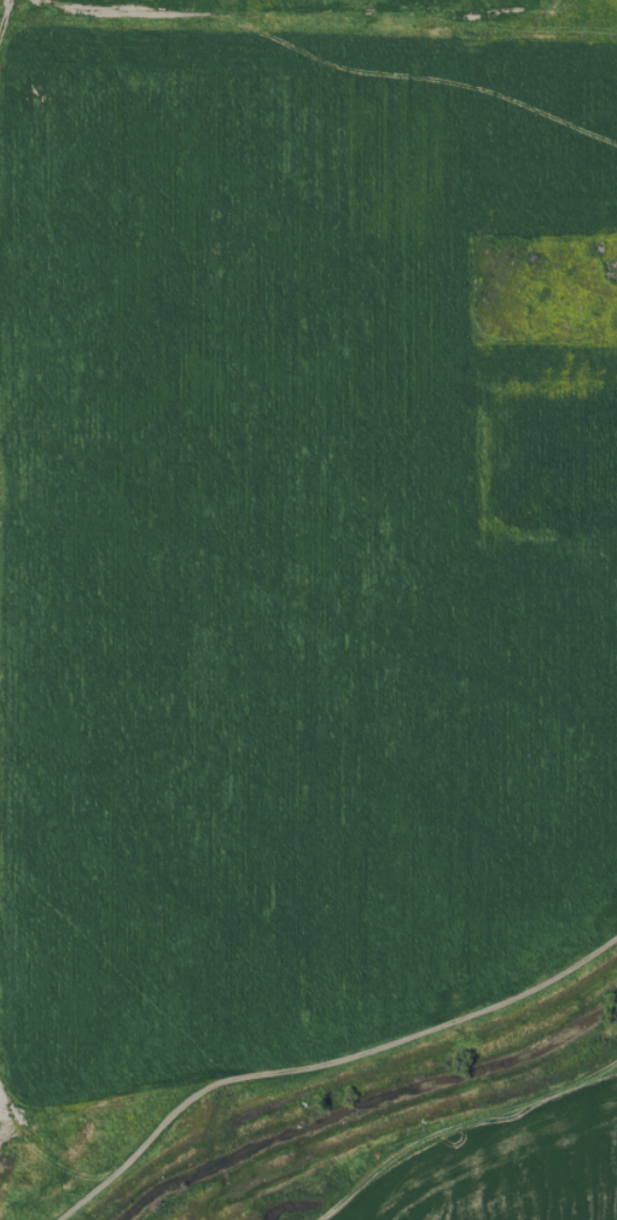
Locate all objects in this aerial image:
river: (374, 1095)

